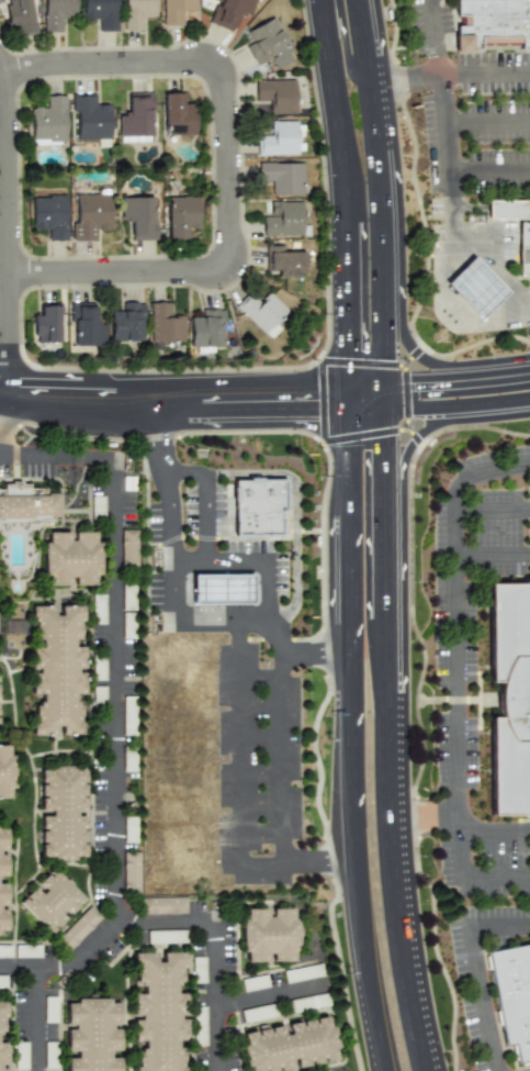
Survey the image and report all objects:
street lamp: (302, 2)
building: (177, 10)
building: (229, 11)
building: (57, 13)
building: (101, 13)
building: (137, 13)
building: (19, 15)
building: (493, 22)
building: (269, 44)
street lamp: (84, 46)
road: (345, 53)
road: (439, 67)
road: (485, 75)
street lamp: (191, 80)
road: (1, 81)
building: (275, 93)
street lamp: (23, 100)
street lamp: (402, 112)
building: (177, 114)
building: (89, 118)
building: (136, 118)
building: (48, 120)
road: (488, 123)
building: (279, 137)
street lamp: (248, 159)
road: (229, 165)
road: (490, 171)
building: (281, 176)
street lamp: (320, 178)
road: (453, 208)
building: (509, 208)
road: (490, 210)
building: (92, 213)
building: (49, 214)
building: (138, 214)
building: (181, 215)
building: (283, 219)
road: (8, 231)
building: (525, 246)
road: (451, 252)
street lamp: (200, 254)
street lamp: (411, 257)
building: (287, 258)
road: (4, 274)
building: (476, 286)
road: (475, 288)
street lamp: (71, 290)
road: (455, 301)
building: (263, 311)
road: (509, 313)
building: (127, 322)
building: (165, 322)
building: (46, 323)
building: (84, 325)
road: (337, 325)
building: (206, 330)
road: (418, 345)
traffic signals: (337, 346)
street lamp: (485, 355)
street lamp: (316, 360)
street lamp: (406, 364)
street lamp: (153, 369)
road: (462, 381)
traffic signals: (417, 388)
traffic signals: (311, 399)
road: (198, 400)
road: (462, 408)
street lamp: (407, 427)
street lamp: (207, 437)
road: (424, 438)
street lamp: (25, 445)
street lamp: (84, 445)
traffic signals: (398, 447)
street lamp: (323, 448)
road: (1, 451)
road: (477, 472)
street lamp: (105, 480)
street lamp: (47, 483)
road: (207, 501)
building: (98, 505)
building: (32, 507)
building: (260, 509)
road: (297, 509)
road: (490, 510)
road: (453, 532)
road: (398, 536)
building: (129, 550)
building: (78, 558)
road: (249, 564)
road: (171, 565)
street lamp: (418, 583)
building: (225, 590)
gas station: (225, 590)
building: (98, 609)
building: (128, 610)
building: (14, 627)
road: (455, 647)
road: (309, 652)
building: (99, 666)
building: (63, 672)
building: (99, 695)
building: (1, 700)
building: (507, 700)
building: (129, 715)
road: (113, 727)
street lamp: (324, 740)
building: (129, 758)
building: (10, 773)
building: (69, 813)
road: (430, 818)
building: (129, 828)
road: (494, 829)
road: (312, 861)
road: (343, 862)
road: (262, 868)
road: (467, 869)
building: (132, 872)
building: (7, 882)
building: (57, 903)
building: (163, 904)
building: (79, 927)
building: (167, 936)
building: (269, 938)
building: (27, 949)
building: (4, 950)
road: (65, 961)
building: (198, 969)
road: (475, 969)
building: (304, 972)
street lamp: (347, 975)
building: (3, 980)
building: (255, 982)
road: (270, 994)
building: (514, 1000)
building: (309, 1001)
building: (50, 1008)
building: (166, 1013)
building: (258, 1013)
road: (36, 1017)
building: (199, 1024)
building: (99, 1036)
building: (5, 1037)
building: (291, 1048)
building: (50, 1053)
building: (21, 1056)
building: (316, 1070)

